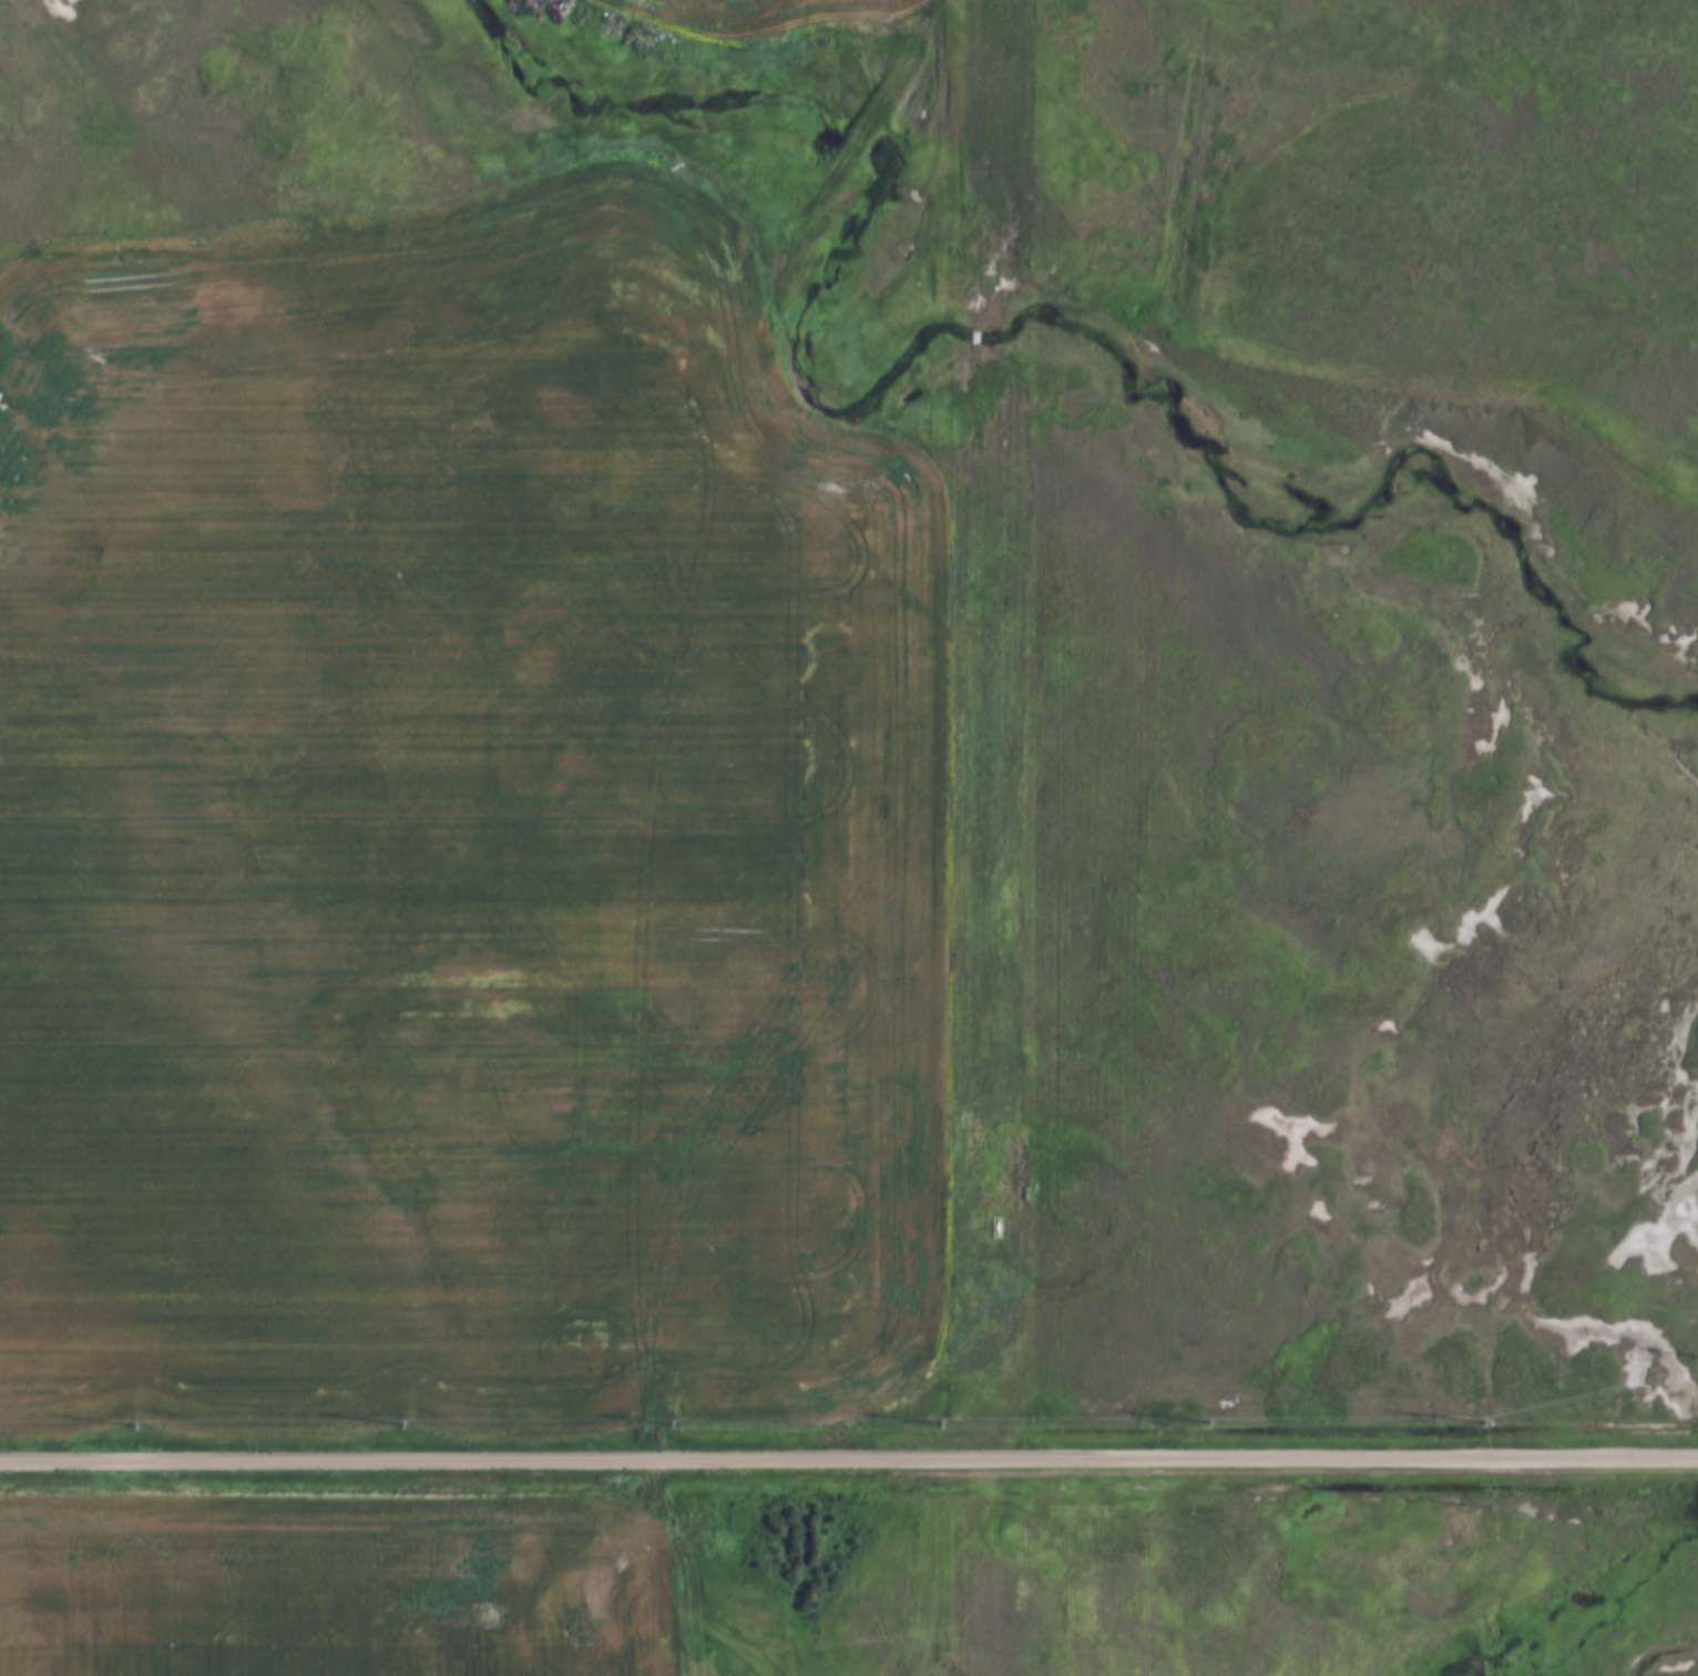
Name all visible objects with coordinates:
road: (652, 1442)
road: (848, 1457)

